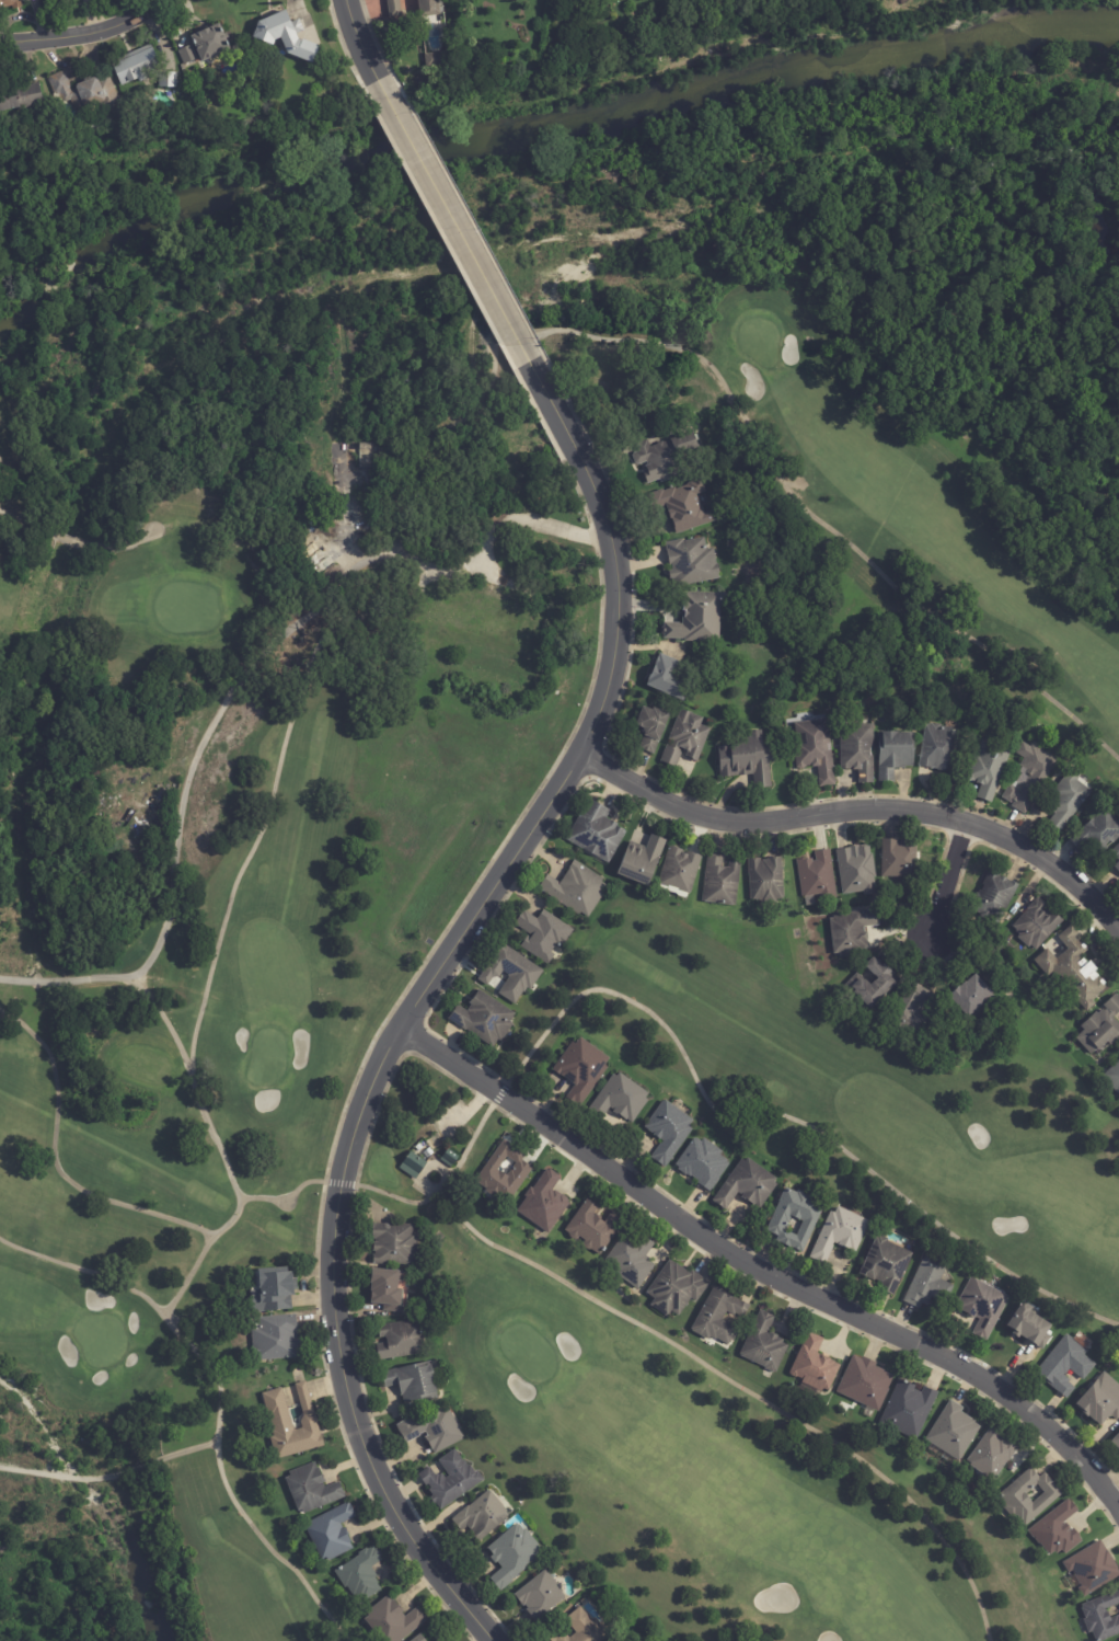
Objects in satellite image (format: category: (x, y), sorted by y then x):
building: (76, 0)
building: (55, 1)
building: (10, 4)
building: (396, 9)
building: (431, 9)
building: (288, 34)
road: (366, 35)
road: (83, 39)
building: (211, 41)
building: (187, 54)
building: (439, 60)
building: (142, 68)
building: (21, 96)
building: (89, 96)
road: (470, 243)
building: (694, 440)
building: (370, 455)
building: (659, 461)
building: (684, 507)
building: (692, 562)
building: (517, 606)
building: (476, 619)
building: (699, 619)
building: (670, 679)
building: (178, 727)
building: (653, 728)
building: (687, 739)
building: (811, 748)
building: (939, 748)
building: (860, 751)
building: (896, 755)
building: (749, 760)
building: (990, 768)
building: (1031, 778)
building: (1069, 801)
road: (863, 812)
building: (592, 830)
building: (1098, 834)
building: (1117, 852)
road: (176, 854)
building: (637, 859)
building: (900, 859)
building: (1117, 868)
building: (680, 871)
building: (858, 871)
building: (819, 877)
building: (768, 881)
building: (722, 882)
road: (953, 882)
building: (573, 887)
building: (995, 896)
park: (334, 919)
building: (1038, 926)
building: (853, 932)
building: (540, 933)
building: (508, 972)
building: (1074, 972)
building: (875, 986)
building: (974, 998)
building: (914, 1011)
building: (481, 1018)
road: (412, 1021)
building: (1101, 1029)
road: (191, 1069)
building: (582, 1069)
building: (1114, 1078)
park: (860, 1094)
building: (621, 1098)
building: (670, 1131)
building: (450, 1158)
building: (704, 1162)
building: (414, 1164)
building: (521, 1171)
building: (749, 1184)
building: (545, 1203)
building: (809, 1218)
building: (595, 1228)
building: (841, 1233)
building: (395, 1243)
building: (633, 1260)
building: (887, 1264)
road: (762, 1273)
building: (930, 1284)
building: (275, 1289)
building: (388, 1289)
building: (677, 1289)
building: (983, 1306)
building: (719, 1317)
building: (1030, 1324)
building: (276, 1338)
building: (402, 1340)
building: (765, 1344)
building: (815, 1365)
building: (1066, 1366)
building: (414, 1381)
building: (864, 1382)
building: (1101, 1401)
building: (910, 1410)
building: (281, 1420)
building: (434, 1430)
building: (955, 1431)
building: (1116, 1442)
building: (993, 1455)
park: (722, 1476)
building: (451, 1480)
building: (312, 1489)
building: (1017, 1500)
building: (483, 1516)
building: (1054, 1530)
building: (332, 1533)
building: (512, 1556)
building: (1091, 1567)
building: (361, 1574)
building: (542, 1595)
building: (1103, 1617)
building: (394, 1621)
building: (581, 1629)
building: (420, 1639)
building: (438, 1639)
building: (441, 1640)

